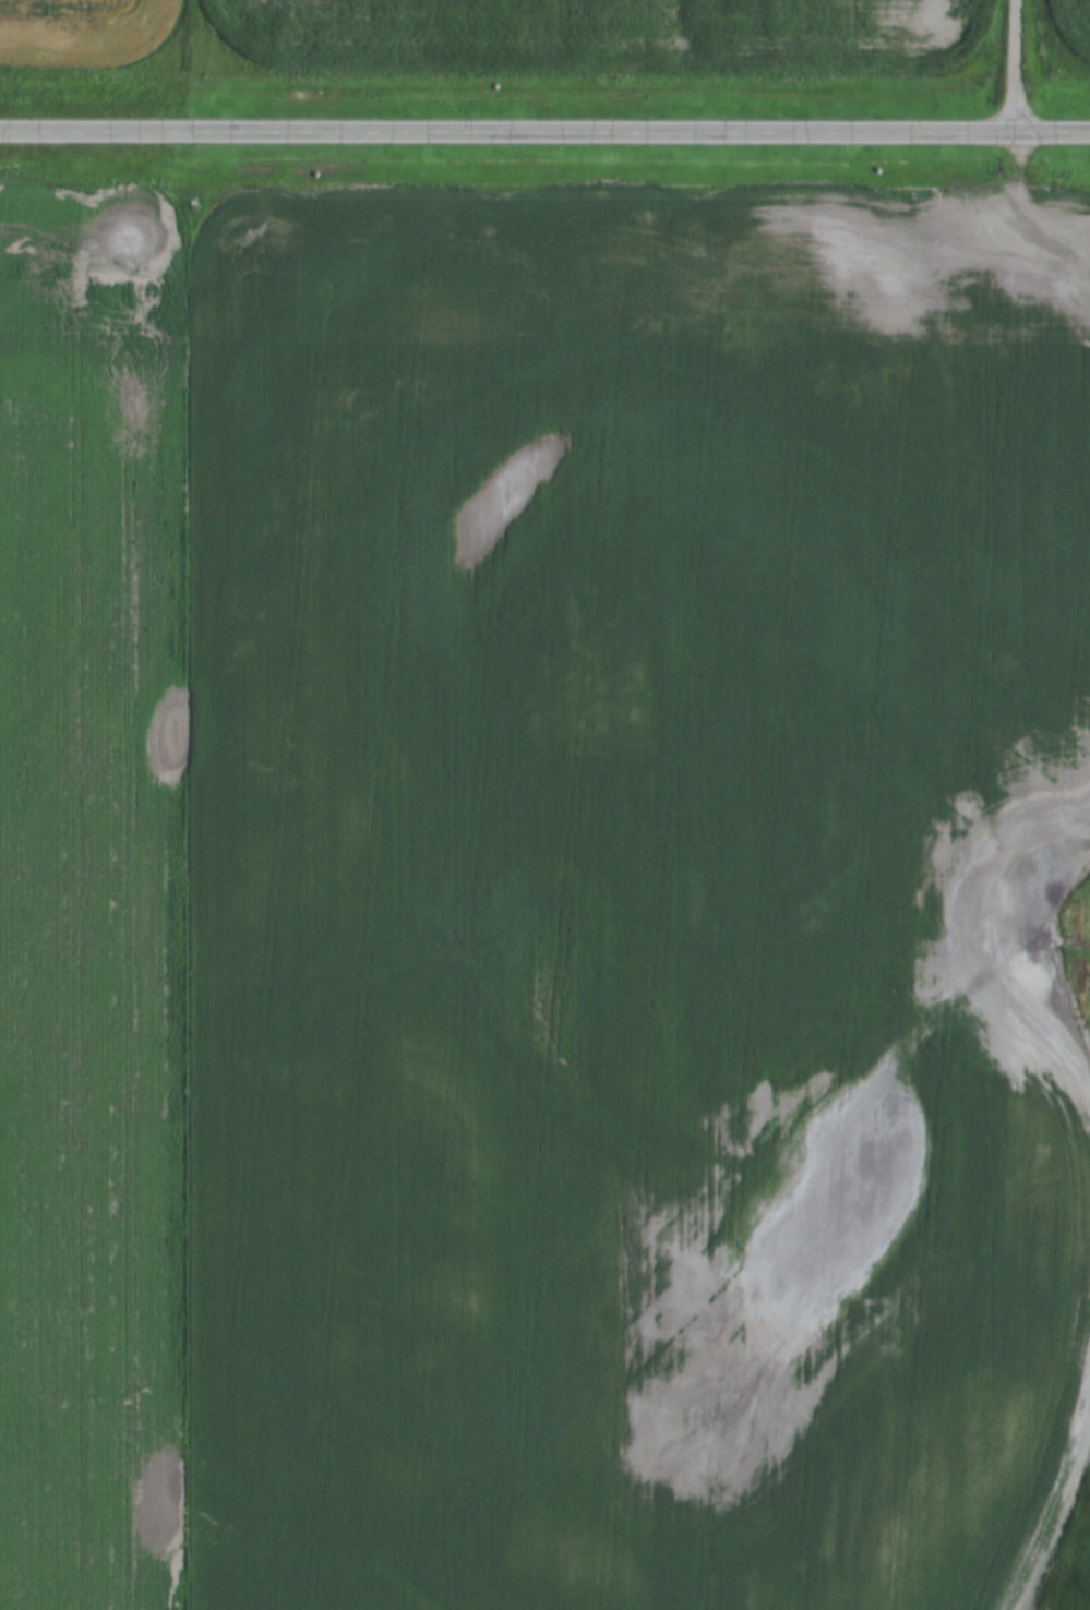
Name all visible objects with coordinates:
road: (1015, 65)
road: (544, 130)

